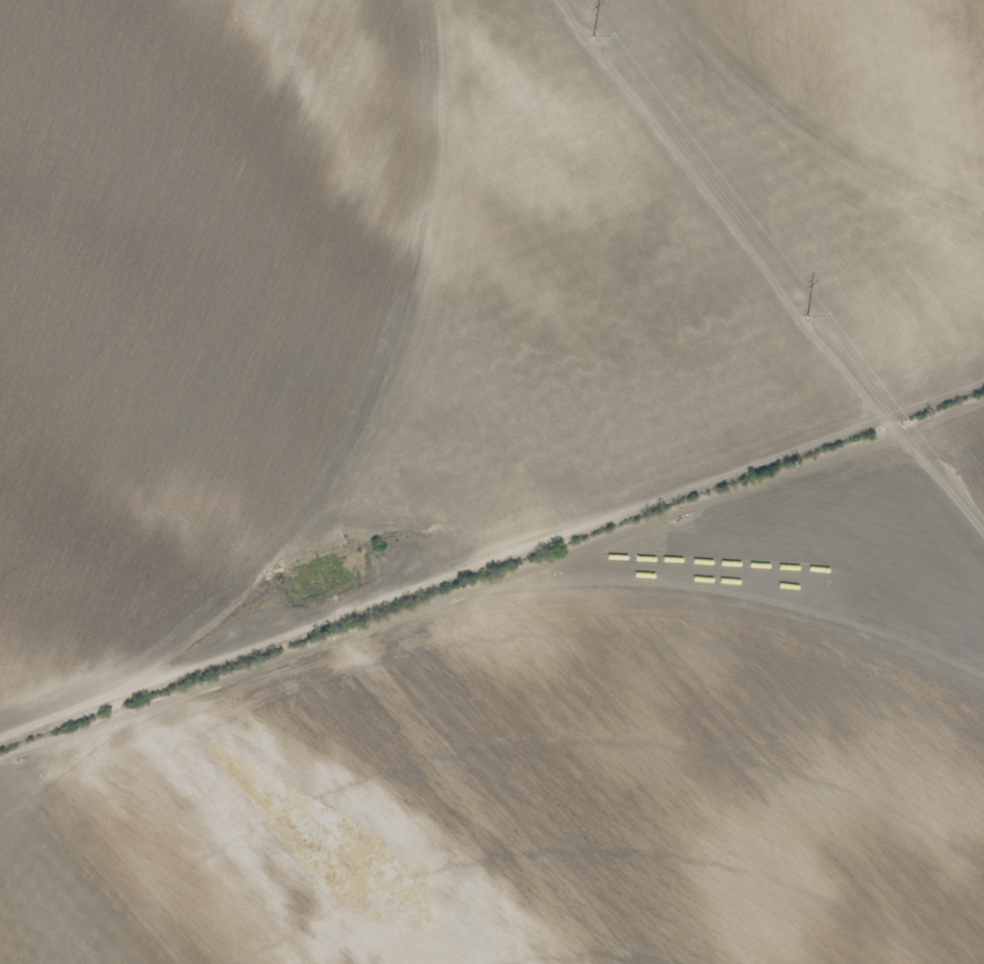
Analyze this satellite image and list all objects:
power tower: (587, 30)
power tower: (799, 308)

